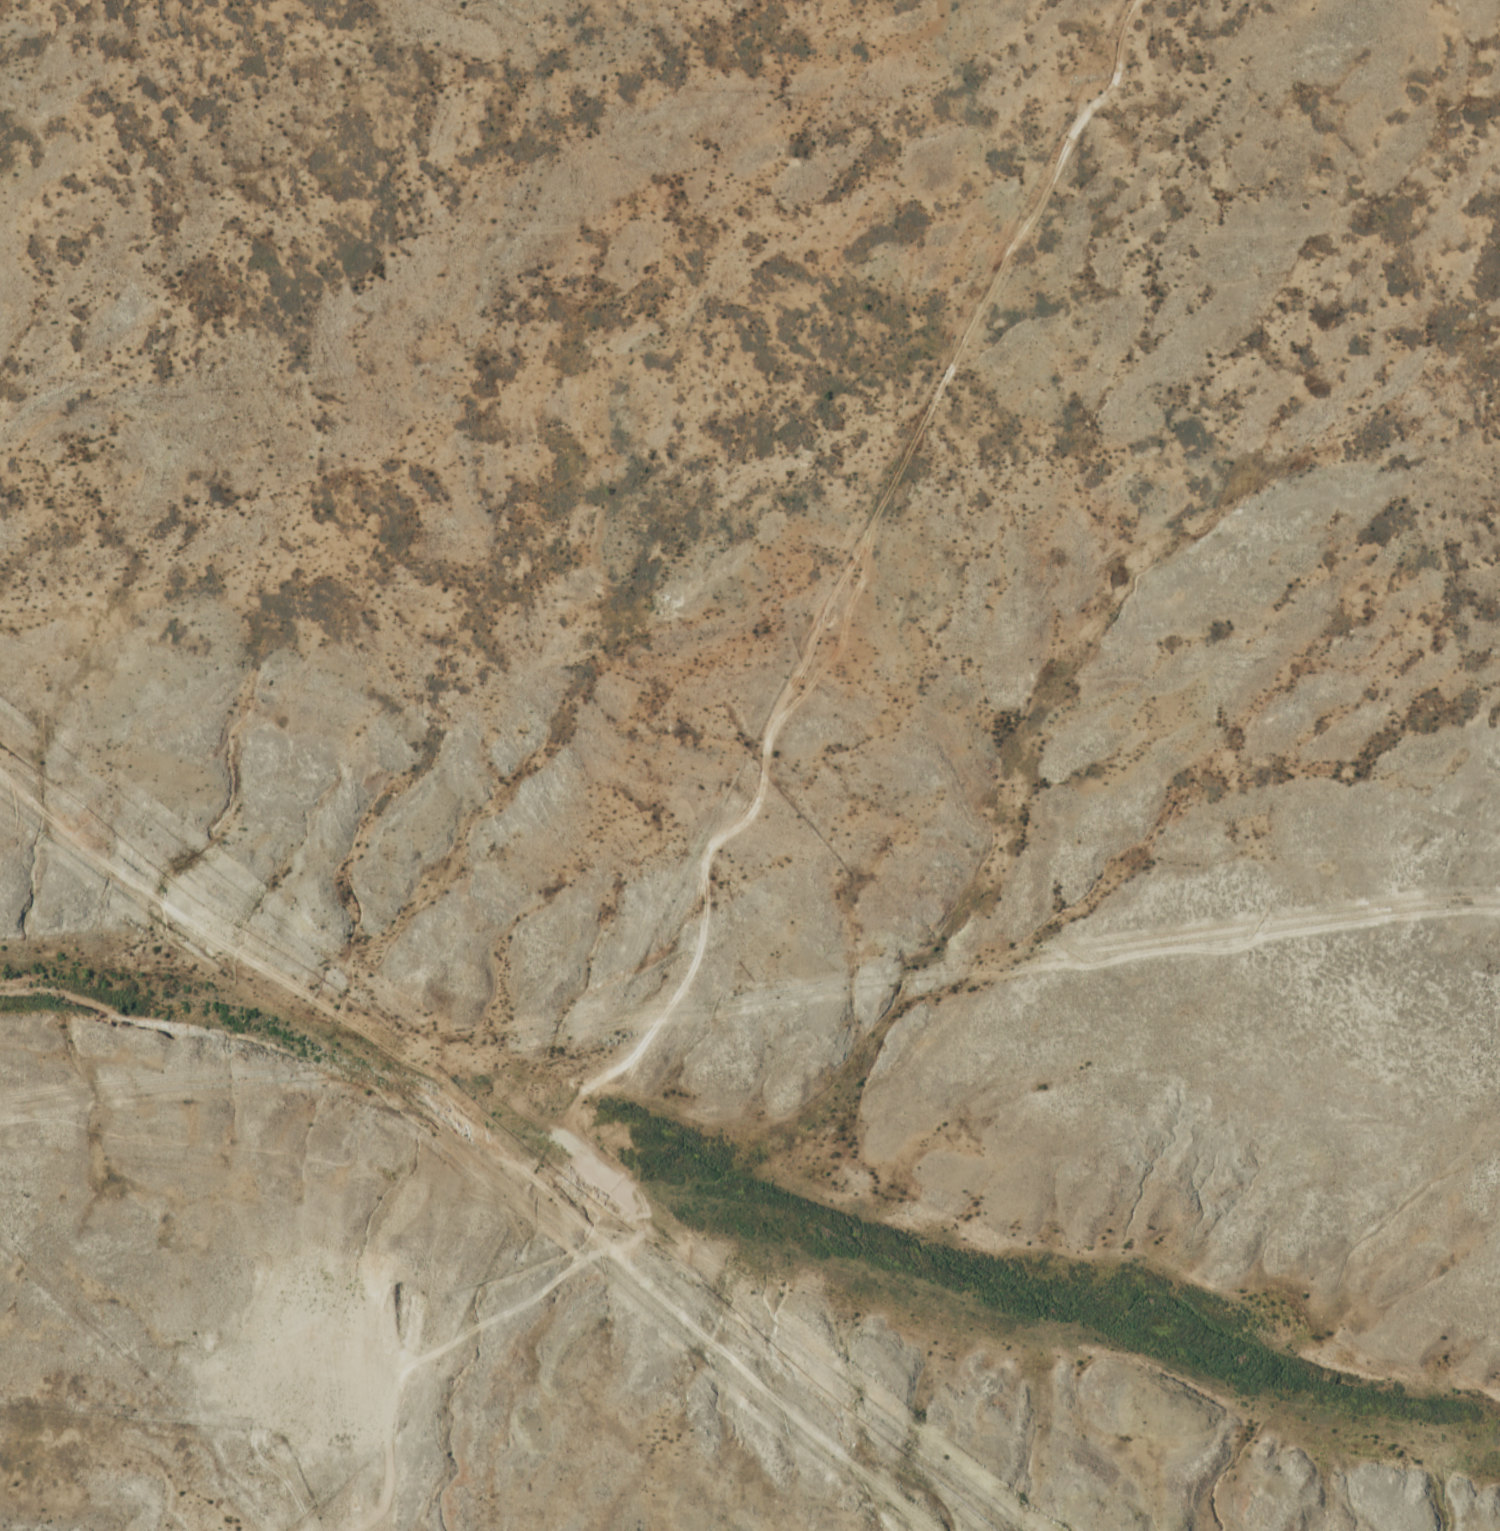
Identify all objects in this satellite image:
road: (850, 566)
road: (346, 1530)

